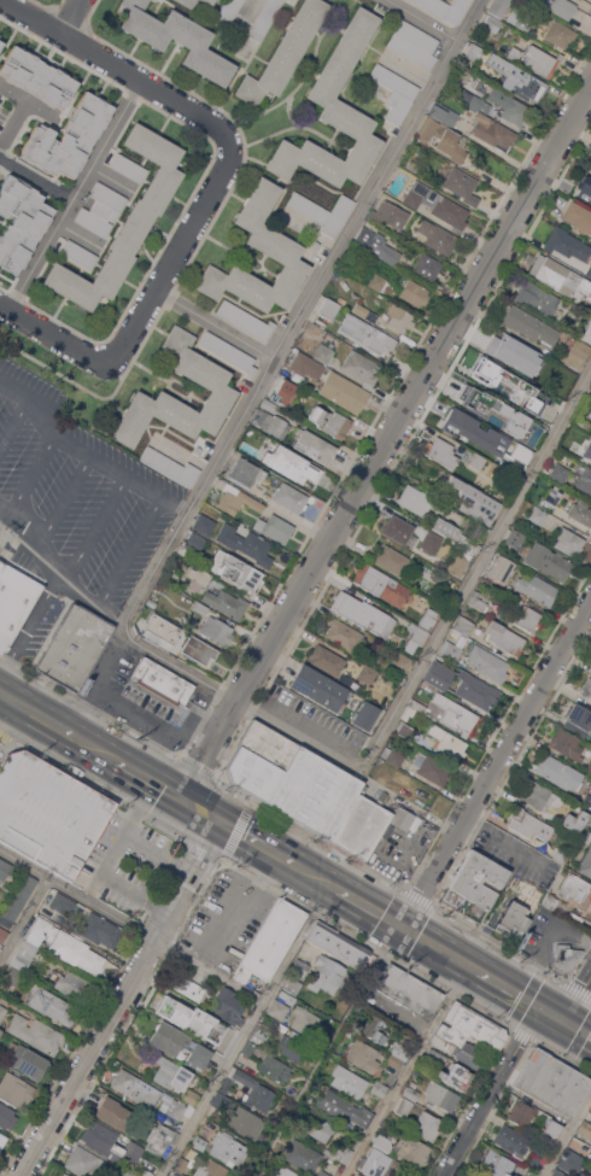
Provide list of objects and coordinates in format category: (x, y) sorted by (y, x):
building: (197, 5)
building: (558, 6)
building: (499, 7)
building: (445, 8)
building: (228, 10)
road: (247, 10)
road: (69, 16)
building: (264, 18)
building: (520, 18)
road: (426, 21)
building: (491, 23)
building: (558, 34)
building: (177, 39)
building: (0, 40)
building: (0, 42)
building: (414, 43)
building: (283, 53)
building: (514, 53)
building: (540, 60)
road: (122, 68)
road: (411, 70)
building: (37, 77)
building: (516, 77)
building: (394, 92)
road: (13, 94)
building: (474, 100)
building: (509, 106)
road: (19, 115)
building: (334, 115)
building: (447, 117)
building: (491, 130)
building: (68, 138)
building: (440, 139)
building: (411, 165)
building: (128, 168)
building: (590, 169)
building: (590, 171)
road: (35, 177)
building: (461, 185)
building: (585, 189)
road: (74, 193)
building: (437, 205)
building: (343, 206)
building: (101, 209)
building: (316, 213)
building: (388, 213)
building: (578, 216)
building: (21, 222)
building: (124, 223)
building: (438, 239)
building: (315, 244)
building: (566, 244)
building: (274, 245)
building: (379, 245)
road: (175, 250)
building: (78, 253)
building: (427, 265)
building: (589, 270)
building: (557, 275)
building: (376, 281)
building: (414, 292)
building: (536, 297)
building: (341, 300)
building: (350, 303)
building: (330, 309)
building: (359, 309)
road: (306, 311)
building: (399, 317)
building: (245, 320)
road: (216, 324)
building: (529, 324)
building: (586, 330)
building: (365, 333)
road: (53, 335)
building: (511, 349)
building: (228, 351)
building: (323, 353)
building: (575, 353)
building: (362, 367)
building: (496, 379)
building: (330, 382)
building: (563, 382)
building: (216, 387)
building: (285, 391)
building: (532, 391)
building: (474, 400)
building: (268, 405)
building: (329, 421)
road: (13, 422)
building: (270, 422)
building: (581, 422)
building: (519, 426)
building: (474, 435)
building: (258, 438)
building: (572, 438)
road: (385, 441)
building: (312, 445)
building: (533, 446)
building: (197, 450)
building: (586, 451)
building: (440, 452)
building: (520, 452)
road: (87, 454)
building: (170, 466)
building: (303, 469)
building: (548, 470)
building: (245, 472)
building: (560, 473)
building: (584, 479)
road: (33, 480)
parking lot: (75, 495)
building: (291, 497)
building: (549, 498)
building: (236, 499)
building: (415, 499)
building: (472, 501)
road: (65, 503)
building: (581, 511)
building: (537, 514)
building: (204, 523)
road: (98, 527)
building: (274, 527)
building: (482, 530)
building: (399, 531)
building: (454, 534)
building: (513, 539)
building: (568, 540)
building: (193, 542)
building: (245, 543)
building: (434, 548)
road: (133, 551)
building: (390, 560)
building: (460, 561)
building: (546, 561)
road: (59, 567)
road: (478, 568)
building: (235, 569)
building: (199, 575)
building: (492, 575)
building: (381, 584)
building: (162, 585)
building: (537, 589)
building: (476, 601)
building: (14, 602)
building: (150, 602)
building: (226, 603)
building: (199, 607)
building: (363, 613)
building: (527, 618)
building: (428, 619)
building: (463, 624)
building: (159, 628)
building: (216, 630)
building: (343, 633)
building: (420, 636)
building: (504, 637)
building: (72, 646)
building: (450, 648)
building: (212, 650)
building: (191, 657)
building: (329, 662)
building: (402, 662)
building: (487, 662)
building: (201, 663)
building: (590, 665)
building: (367, 673)
building: (439, 675)
road: (99, 679)
building: (162, 680)
building: (320, 688)
building: (586, 688)
building: (476, 690)
road: (4, 695)
road: (236, 700)
road: (4, 703)
building: (414, 709)
building: (363, 713)
building: (456, 713)
road: (41, 716)
building: (578, 720)
road: (150, 722)
road: (191, 725)
building: (406, 731)
building: (447, 742)
building: (567, 743)
road: (95, 749)
building: (392, 755)
road: (495, 759)
building: (259, 761)
building: (432, 767)
building: (589, 768)
building: (557, 772)
road: (150, 780)
building: (314, 792)
building: (539, 795)
traffic signals: (183, 800)
building: (586, 801)
road: (204, 812)
building: (48, 813)
building: (405, 819)
building: (528, 823)
building: (573, 823)
building: (589, 823)
building: (363, 824)
traffic signals: (224, 825)
road: (499, 832)
building: (388, 833)
road: (133, 839)
road: (259, 846)
road: (109, 853)
building: (560, 855)
building: (585, 864)
building: (4, 868)
road: (317, 878)
building: (517, 882)
building: (473, 885)
road: (122, 889)
building: (575, 890)
building: (19, 896)
building: (549, 901)
building: (60, 902)
road: (238, 902)
road: (368, 907)
building: (511, 920)
road: (25, 923)
road: (130, 925)
building: (99, 930)
building: (2, 934)
road: (540, 940)
building: (271, 941)
building: (337, 944)
building: (64, 946)
road: (438, 948)
building: (24, 955)
building: (564, 958)
building: (298, 966)
building: (13, 975)
building: (326, 975)
road: (492, 979)
building: (74, 984)
building: (292, 984)
building: (189, 988)
building: (405, 988)
building: (283, 995)
road: (577, 996)
road: (522, 997)
road: (123, 1001)
building: (48, 1004)
building: (248, 1004)
building: (175, 1006)
building: (228, 1006)
traffic signals: (539, 1007)
building: (277, 1008)
road: (551, 1013)
building: (2, 1014)
building: (304, 1019)
traffic signals: (563, 1020)
building: (476, 1025)
building: (375, 1028)
road: (577, 1028)
building: (0, 1030)
road: (245, 1030)
building: (0, 1031)
building: (398, 1031)
building: (36, 1032)
building: (261, 1035)
building: (295, 1035)
building: (222, 1036)
building: (445, 1036)
building: (179, 1043)
building: (248, 1047)
building: (289, 1047)
road: (324, 1049)
building: (400, 1049)
building: (468, 1053)
building: (362, 1054)
building: (435, 1055)
building: (25, 1060)
building: (393, 1060)
building: (275, 1069)
road: (406, 1071)
building: (171, 1073)
building: (457, 1076)
building: (349, 1081)
building: (551, 1082)
building: (14, 1088)
building: (135, 1088)
building: (379, 1088)
building: (250, 1089)
building: (411, 1090)
road: (490, 1092)
building: (191, 1095)
building: (443, 1096)
building: (221, 1100)
building: (172, 1106)
building: (341, 1107)
building: (113, 1112)
building: (520, 1112)
building: (6, 1116)
building: (420, 1118)
building: (244, 1123)
building: (317, 1127)
building: (584, 1128)
building: (133, 1129)
building: (550, 1130)
road: (567, 1135)
building: (160, 1137)
building: (1, 1139)
building: (511, 1140)
building: (199, 1142)
building: (228, 1148)
building: (412, 1149)
building: (131, 1152)
building: (343, 1153)
building: (303, 1157)
building: (376, 1158)
building: (83, 1162)
building: (534, 1162)
building: (570, 1162)
building: (180, 1164)
building: (497, 1164)
building: (212, 1169)
building: (144, 1171)
building: (287, 1171)
building: (121, 1172)
building: (558, 1172)
building: (323, 1174)
building: (584, 1174)
building: (63, 1175)
building: (65, 1175)
building: (357, 1175)
building: (478, 1175)
building: (514, 1175)

